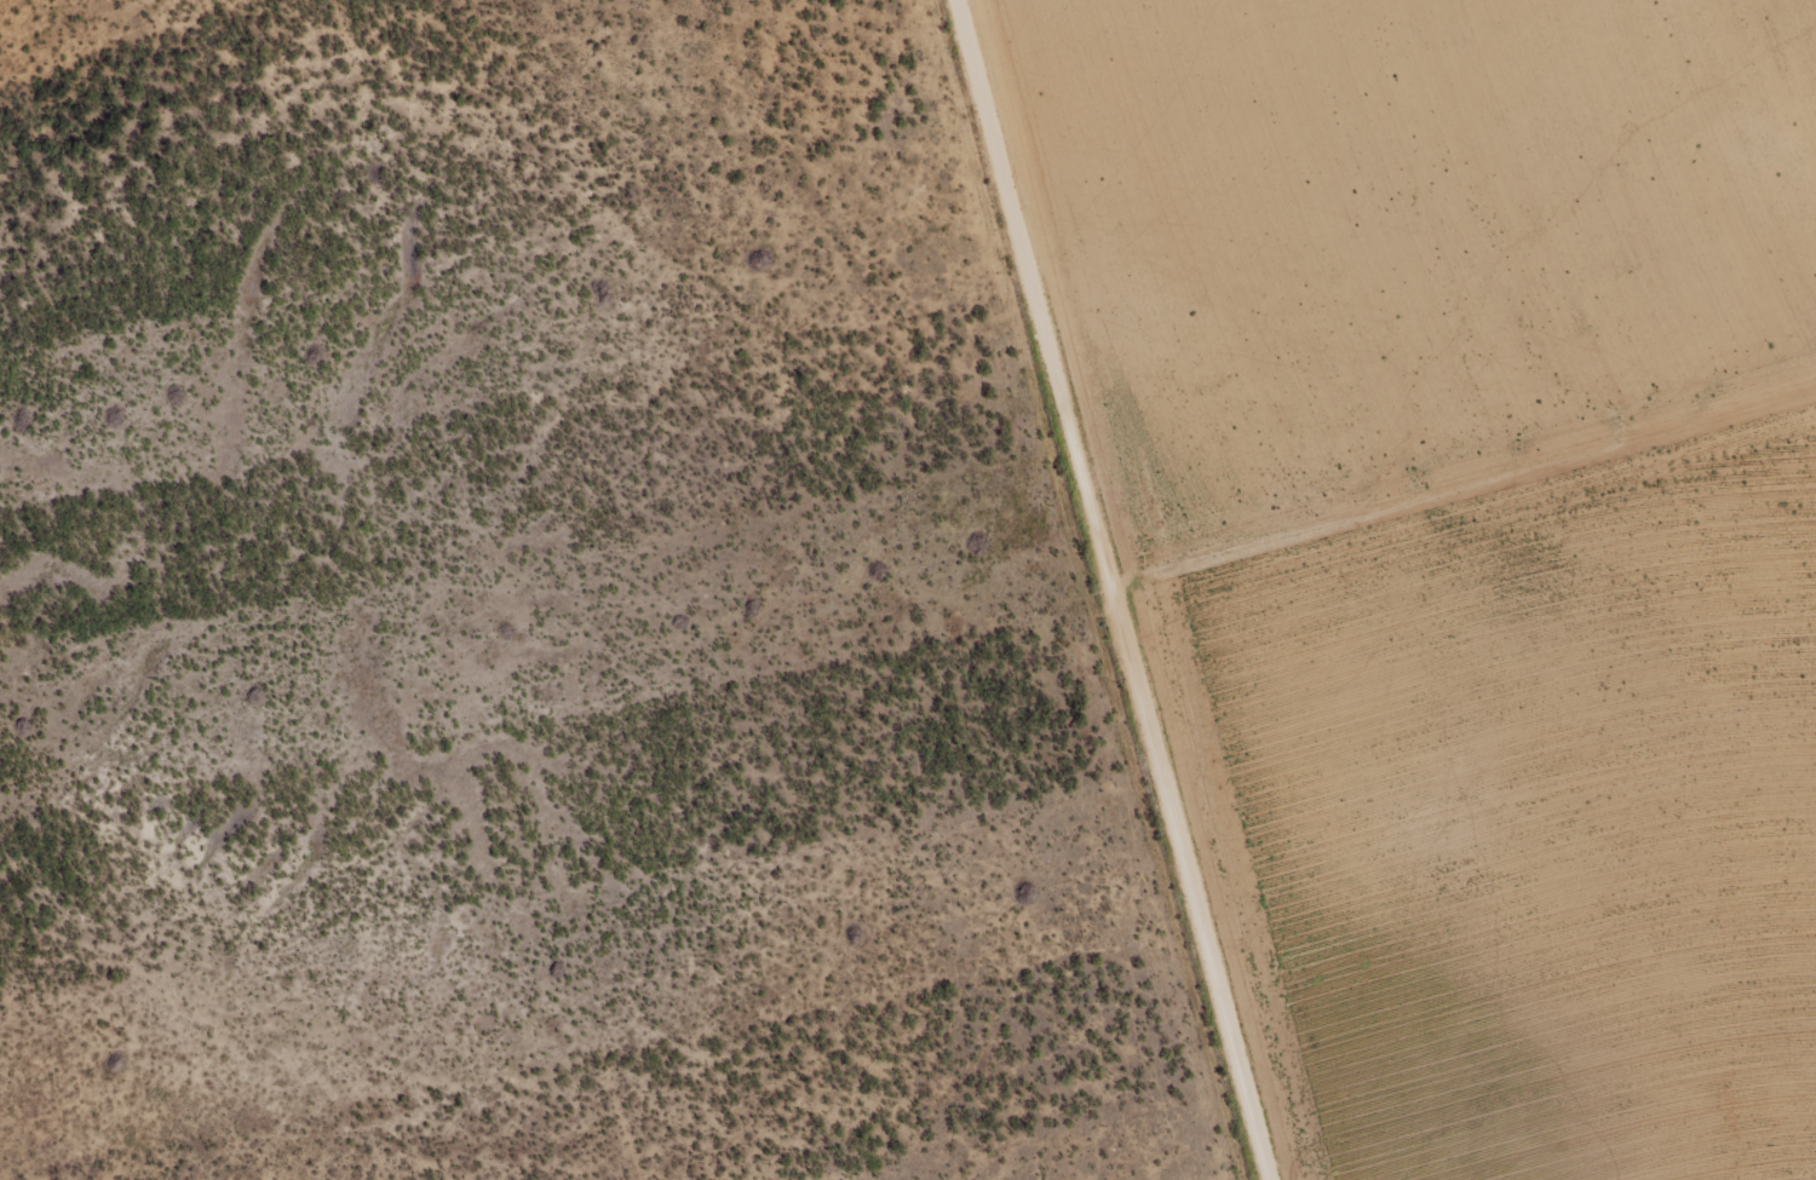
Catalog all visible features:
road: (1044, 303)
road: (1473, 506)
road: (1193, 893)

